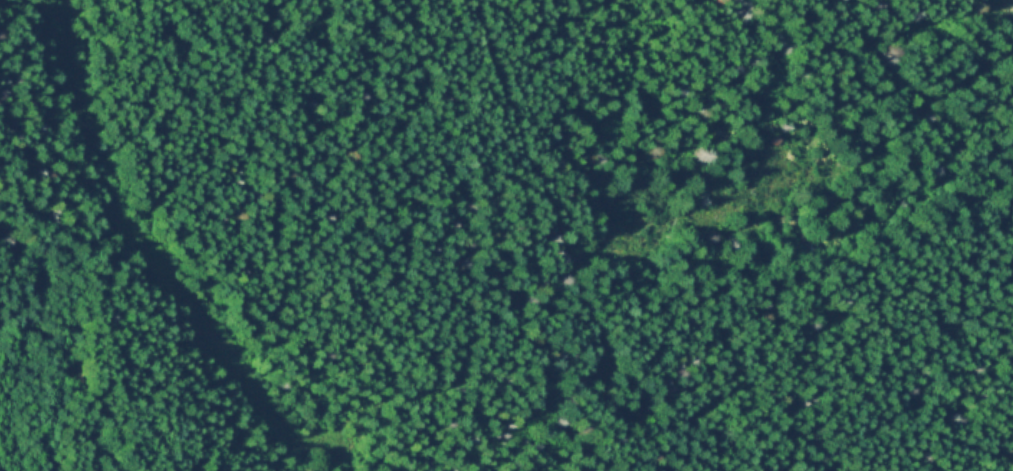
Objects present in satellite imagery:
road: (141, 239)
road: (588, 315)
road: (304, 449)

